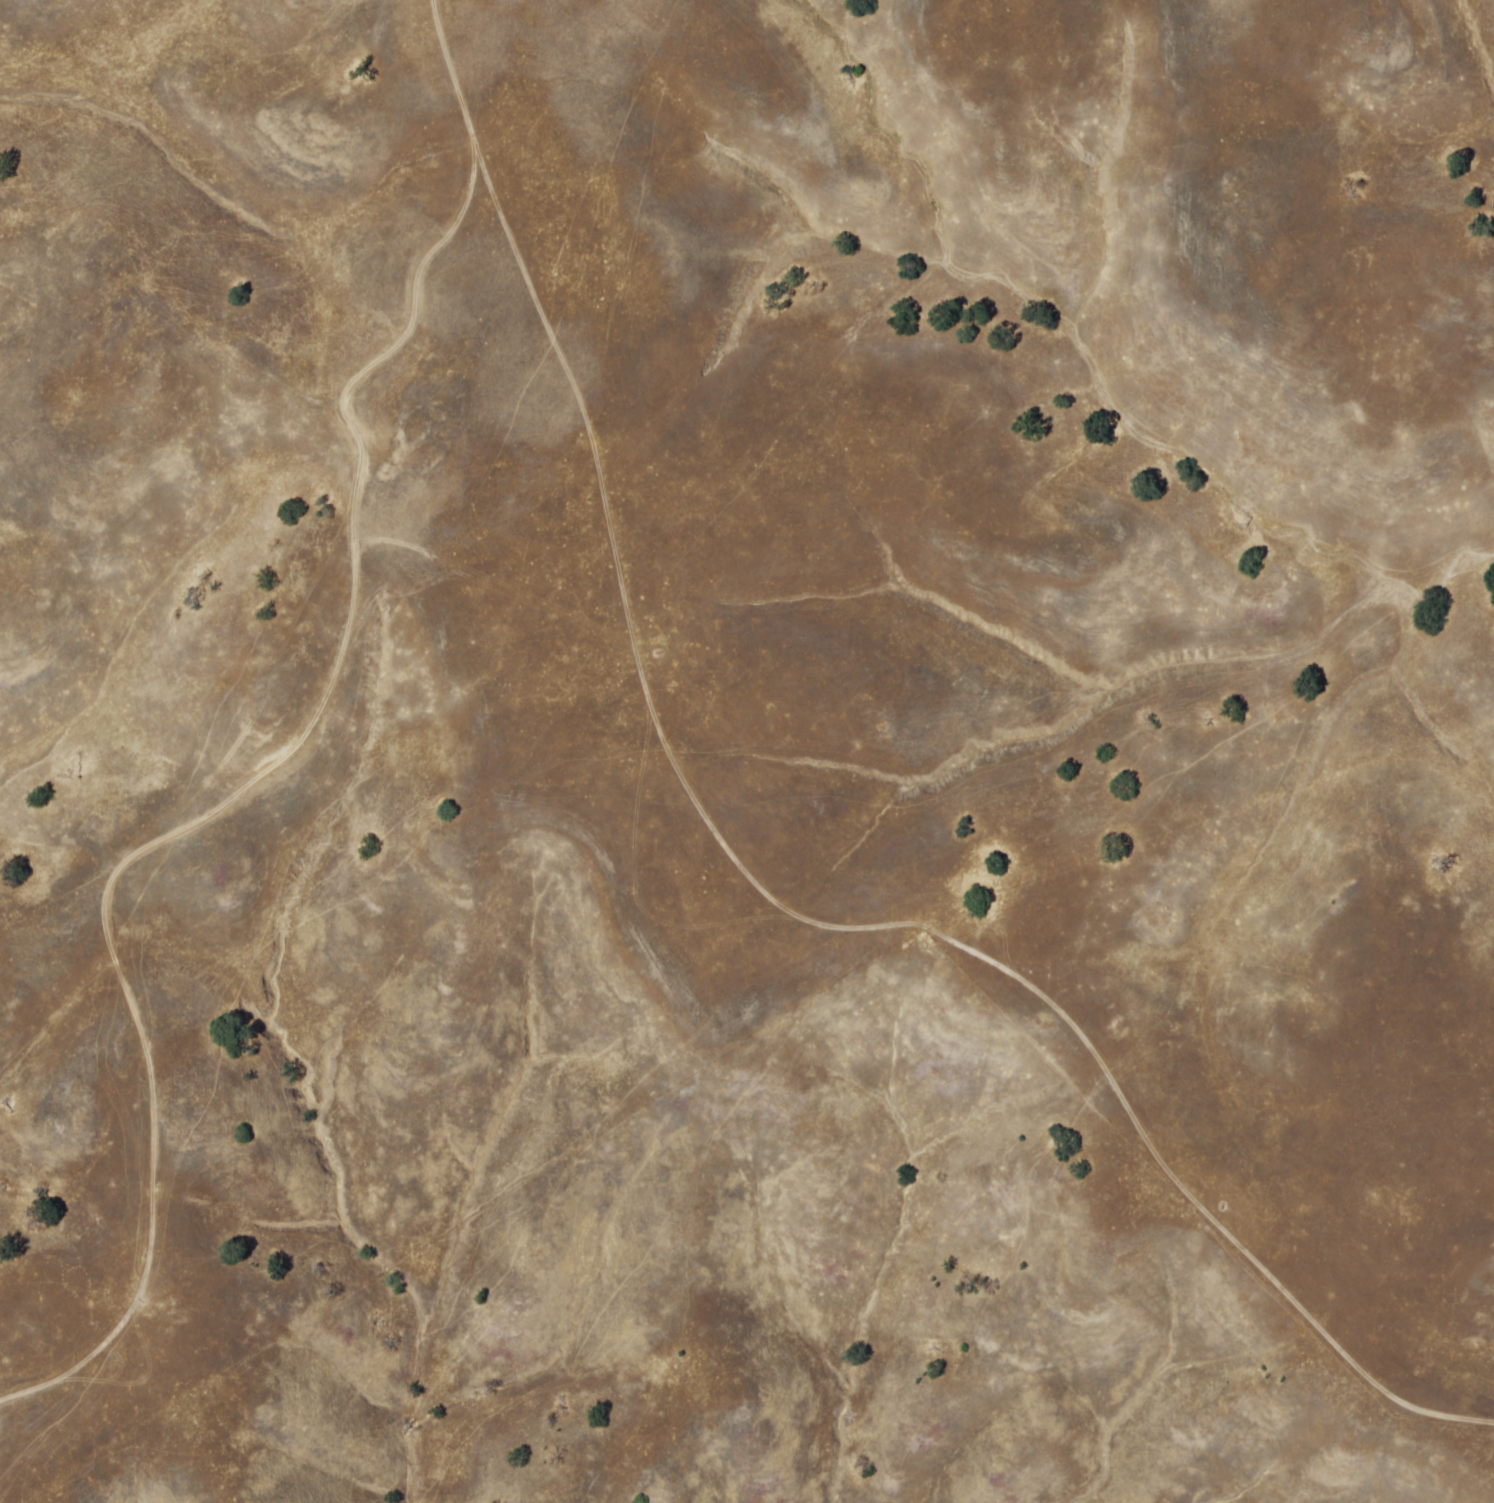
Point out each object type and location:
road: (283, 745)
road: (822, 926)

